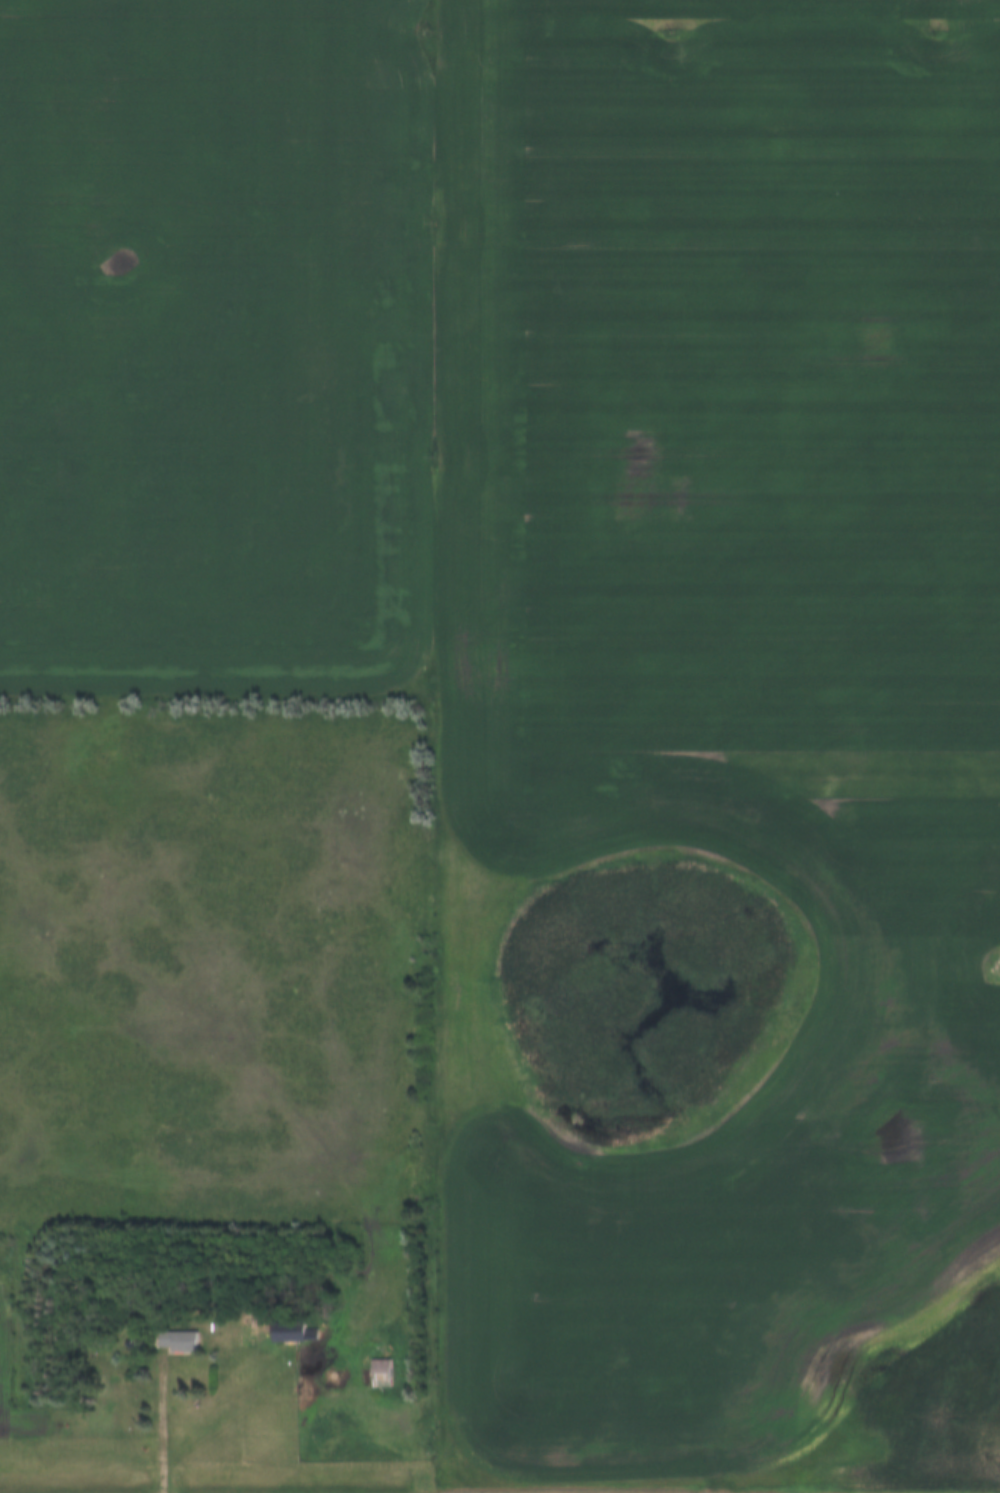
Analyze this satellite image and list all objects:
storage tank: (196, 1315)
building: (278, 1322)
building: (163, 1329)
building: (296, 1332)
building: (180, 1341)
building: (365, 1361)
building: (382, 1373)
road: (161, 1430)

